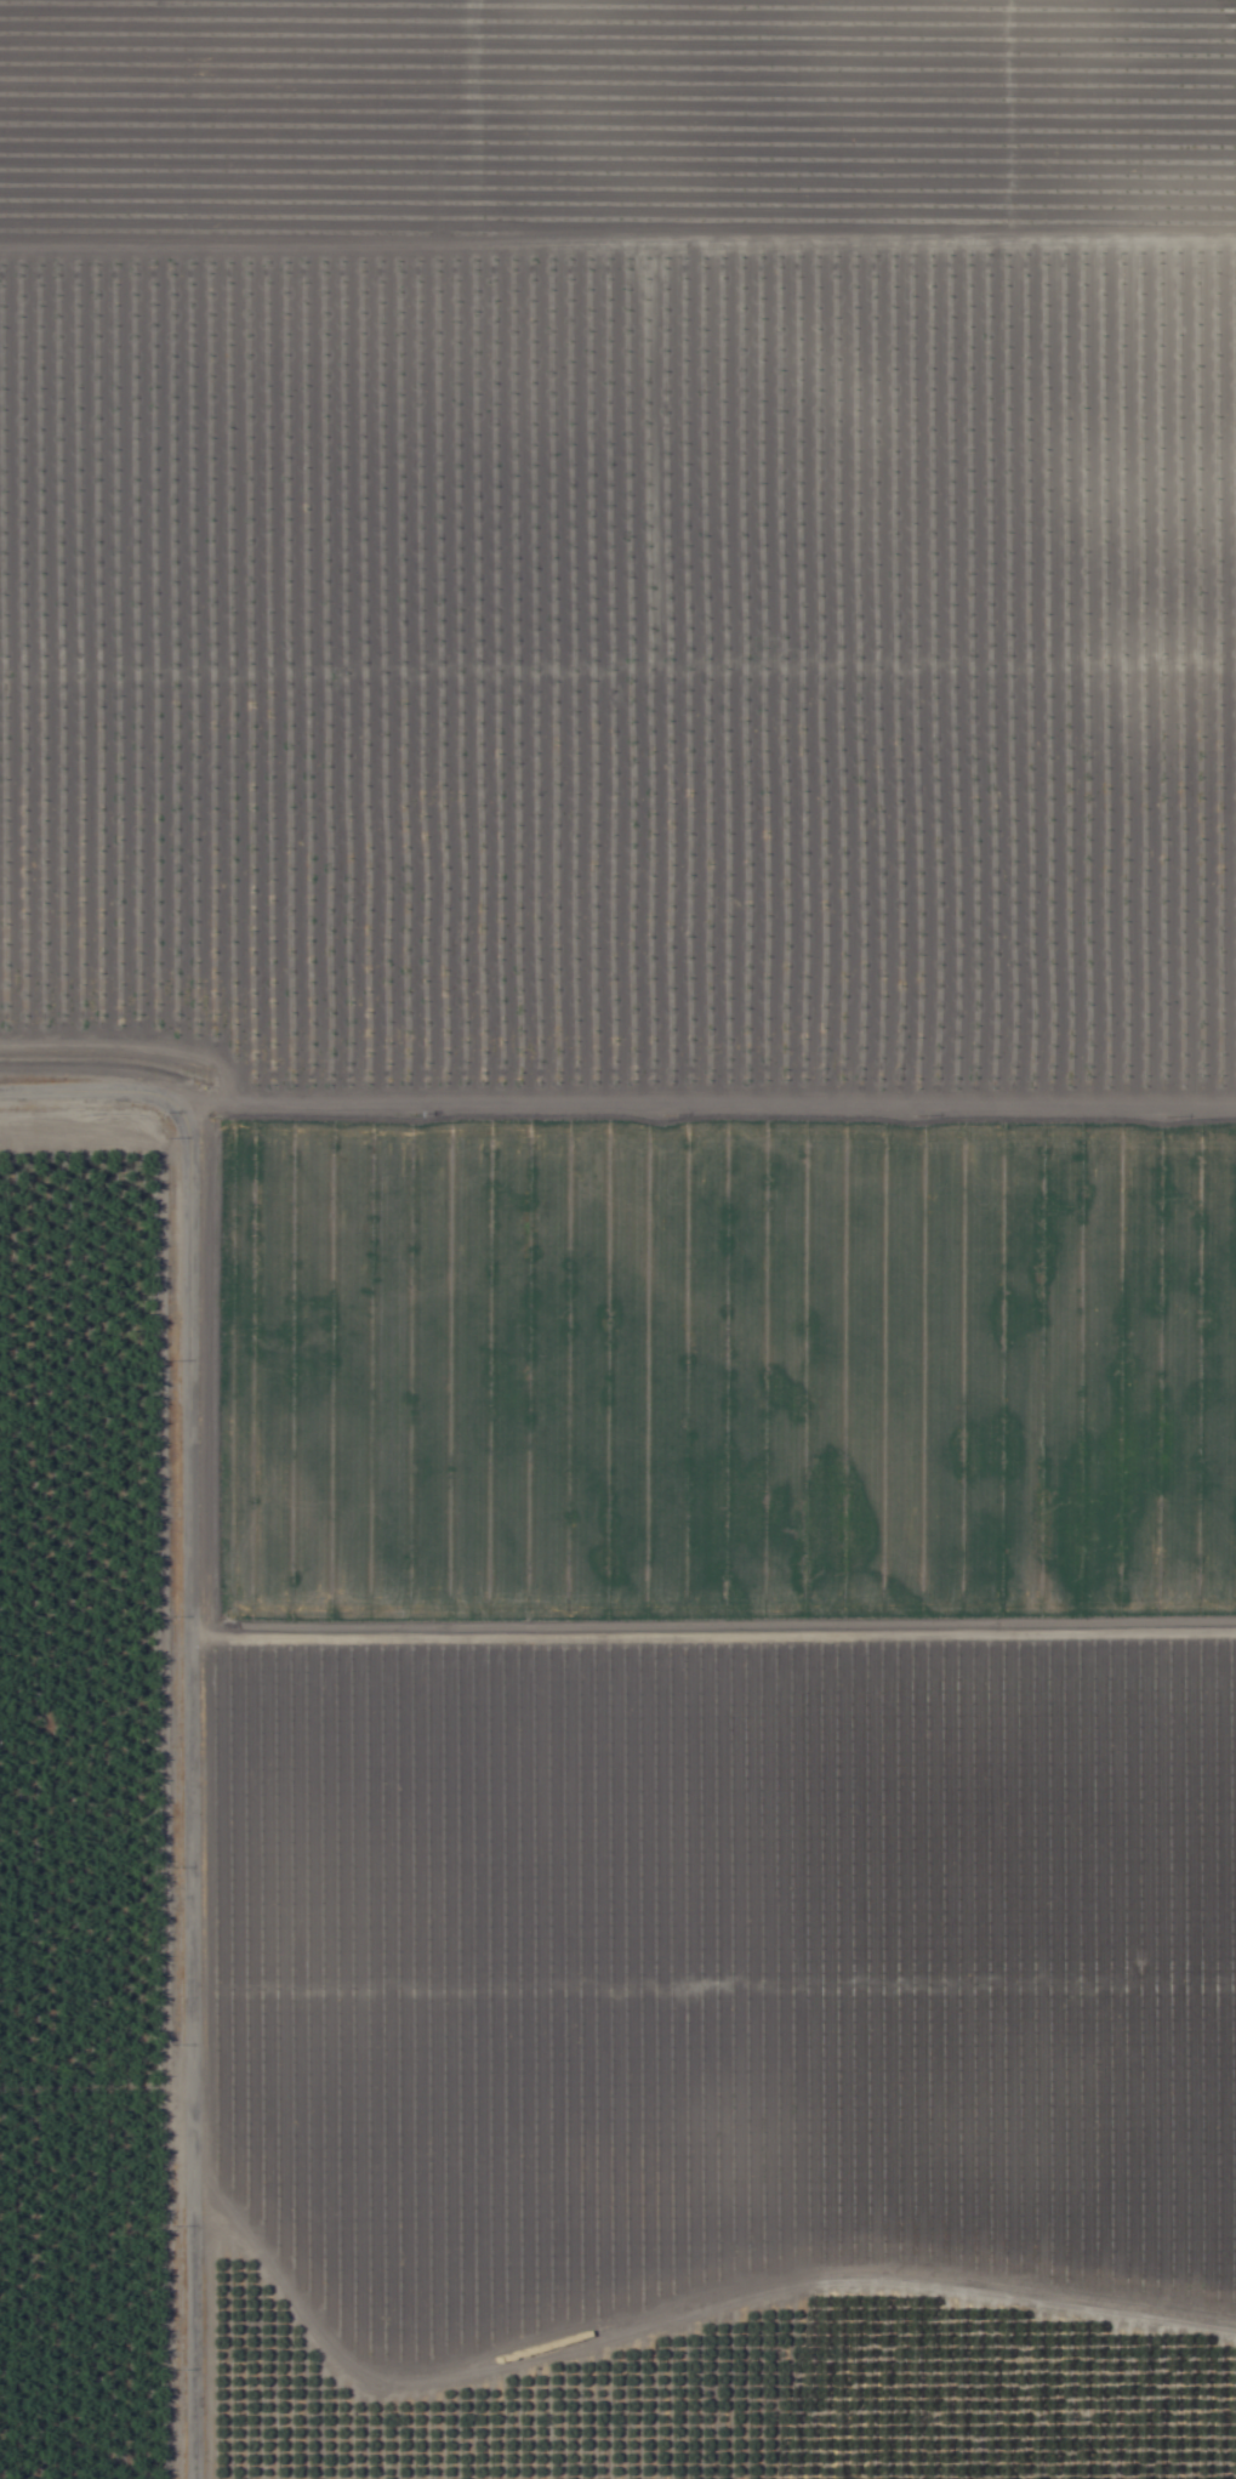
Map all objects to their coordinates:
road: (84, 1081)
road: (701, 1096)
crop: (617, 1239)
road: (192, 1783)

